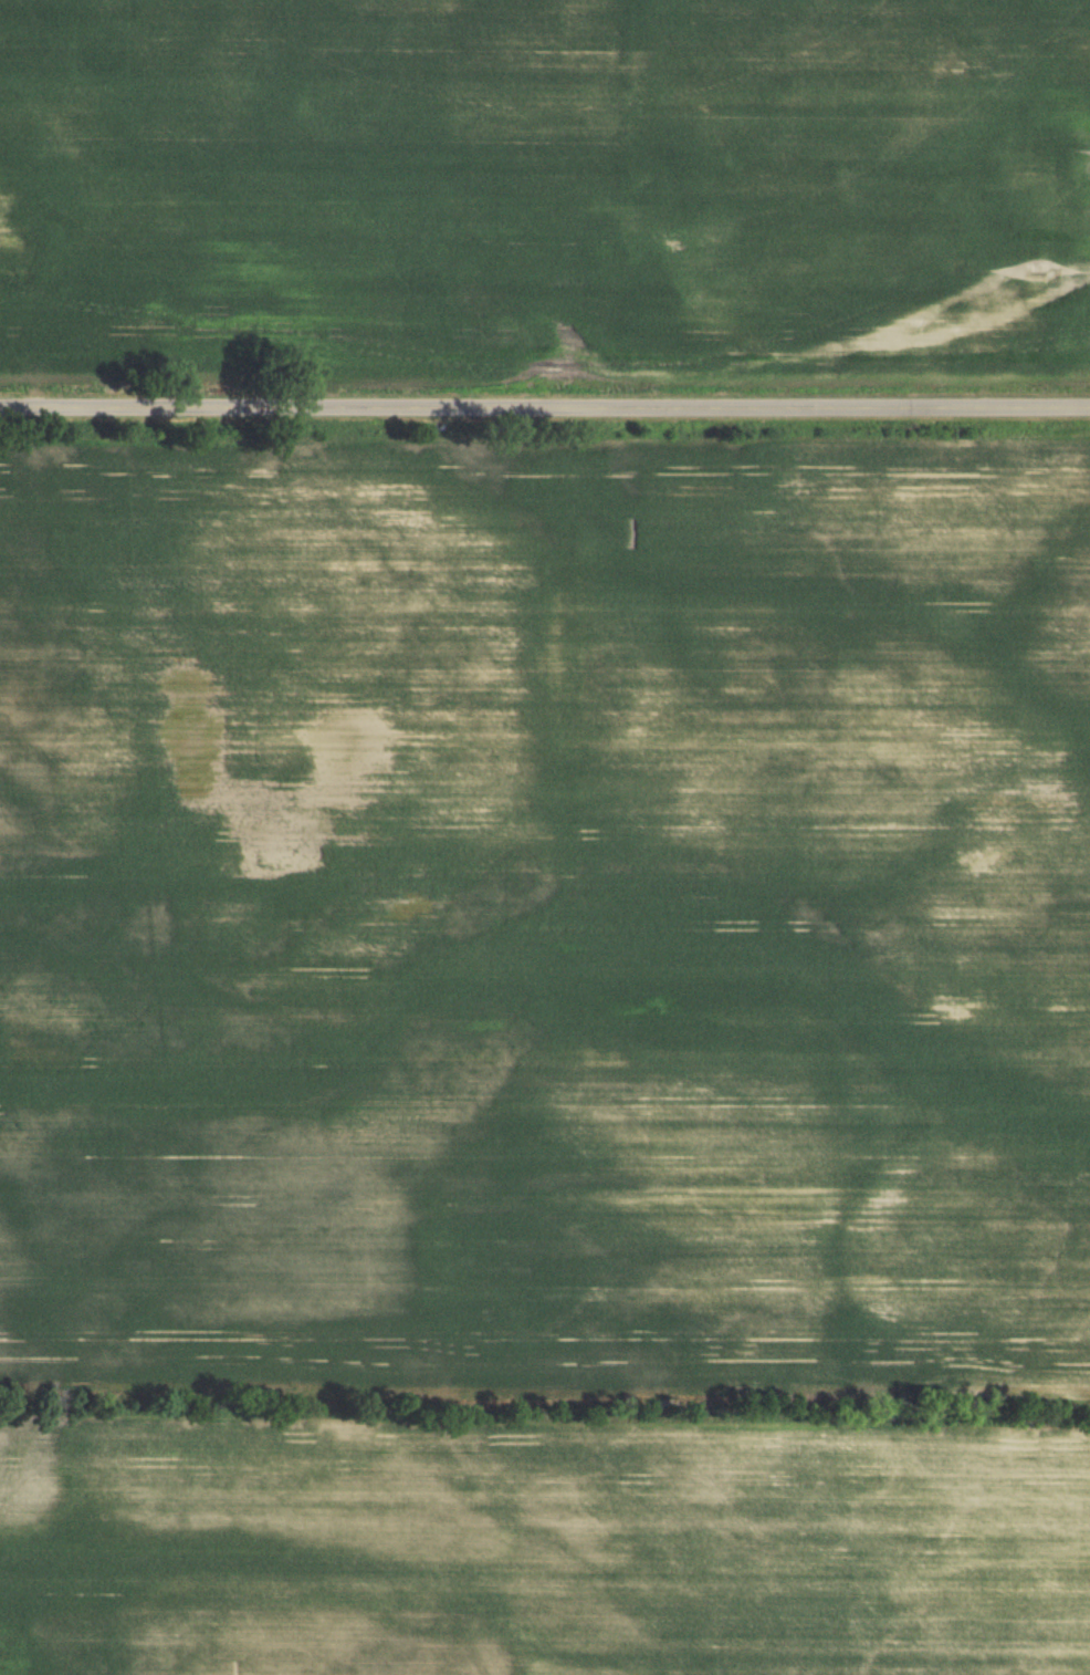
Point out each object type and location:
road: (545, 407)

